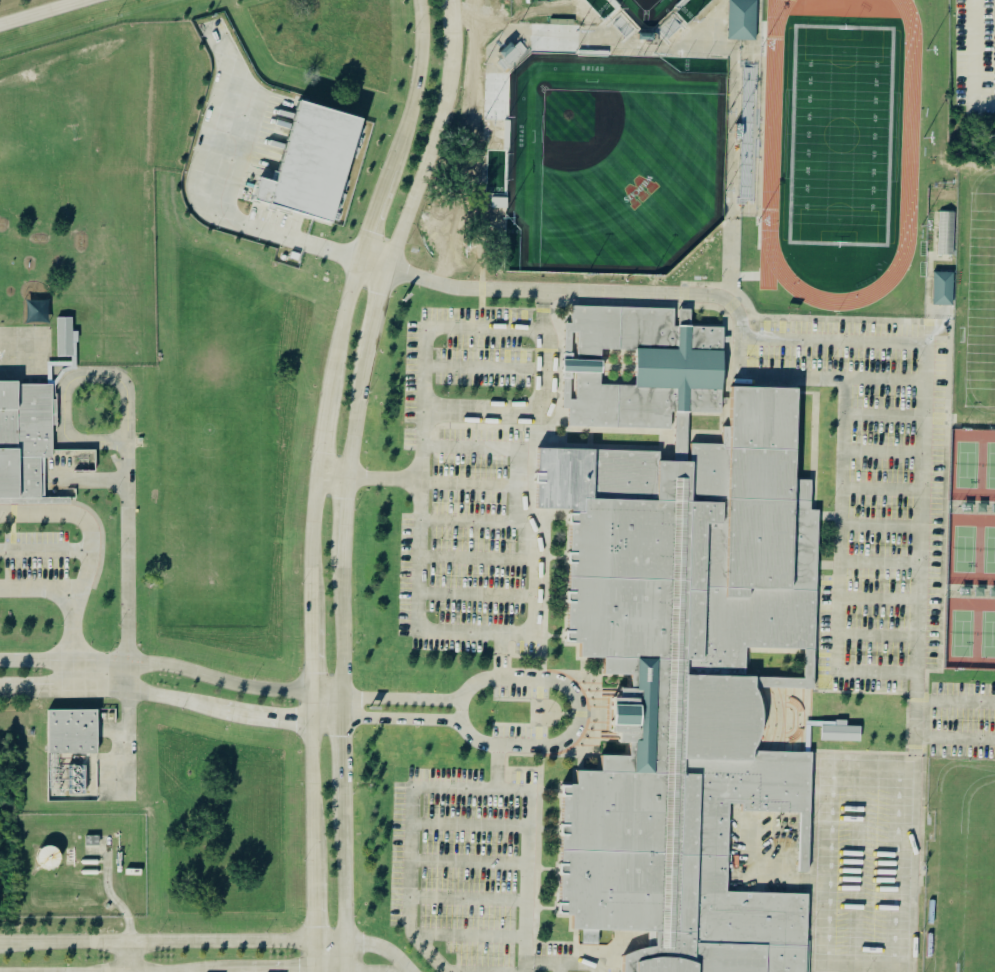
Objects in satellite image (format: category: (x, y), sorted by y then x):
park: (644, 10)
road: (41, 12)
building: (744, 20)
track: (772, 135)
park: (842, 135)
park: (608, 156)
building: (316, 163)
building: (947, 235)
road: (426, 278)
building: (944, 289)
park: (979, 298)
road: (450, 327)
building: (66, 337)
road: (851, 340)
road: (49, 359)
road: (485, 367)
building: (641, 367)
road: (770, 376)
road: (847, 378)
building: (23, 440)
road: (316, 478)
road: (349, 478)
road: (417, 480)
road: (126, 495)
road: (78, 514)
road: (473, 521)
park: (968, 545)
road: (45, 549)
road: (477, 557)
road: (41, 587)
road: (477, 594)
road: (418, 602)
road: (75, 637)
road: (501, 655)
building: (808, 662)
road: (173, 668)
road: (596, 672)
road: (495, 678)
building: (686, 682)
parking lot: (521, 688)
road: (404, 698)
road: (955, 699)
road: (173, 700)
road: (404, 718)
parking lot: (962, 718)
road: (517, 725)
building: (71, 731)
parking lot: (520, 735)
road: (955, 736)
road: (752, 748)
building: (75, 778)
road: (912, 822)
road: (470, 824)
road: (528, 842)
road: (410, 846)
building: (48, 856)
road: (469, 859)
road: (821, 863)
road: (468, 897)
park: (976, 929)
road: (471, 934)
road: (173, 939)
road: (382, 946)
road: (130, 956)
road: (565, 963)
road: (560, 967)
road: (367, 971)

